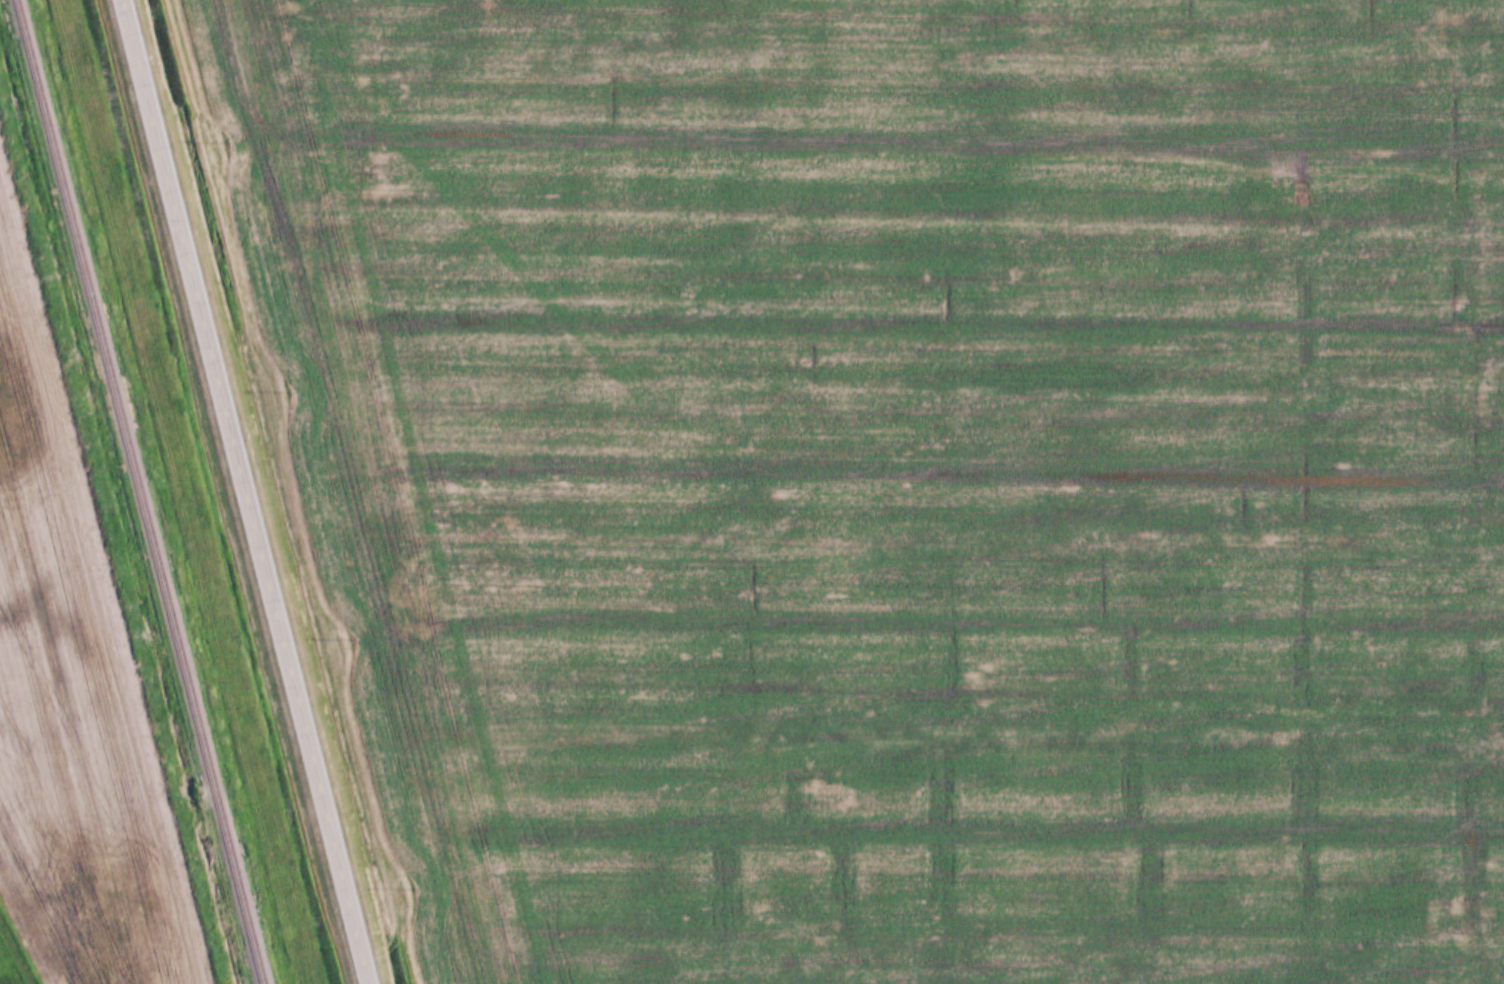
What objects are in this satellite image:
road: (250, 491)
railway: (134, 492)

